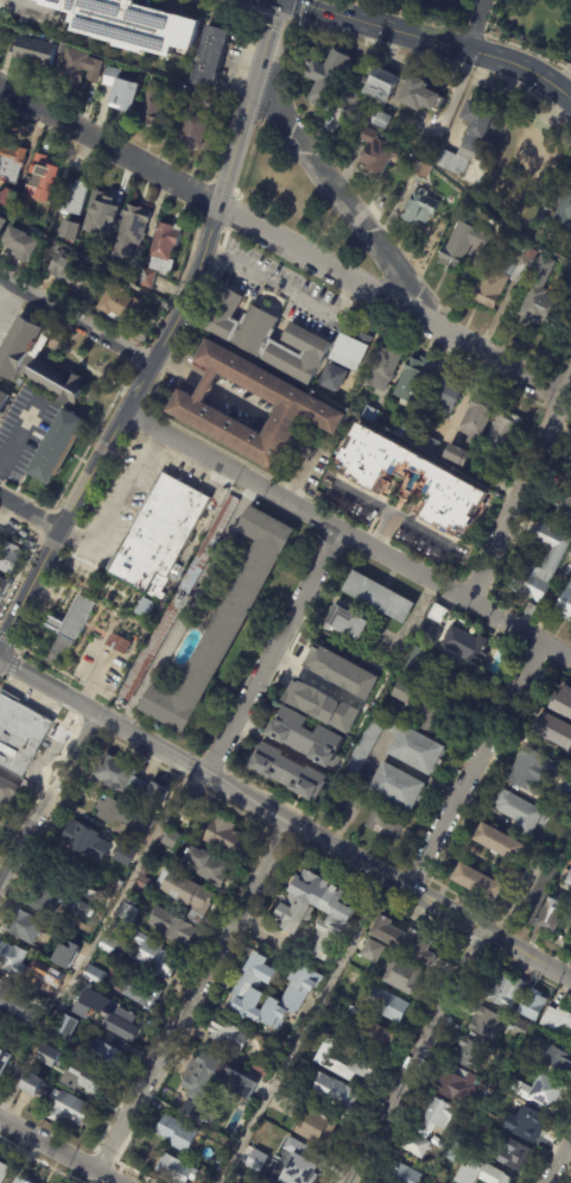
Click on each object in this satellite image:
building: (129, 25)
road: (477, 25)
road: (436, 39)
building: (36, 51)
building: (212, 59)
building: (77, 69)
building: (347, 83)
building: (120, 92)
building: (189, 95)
building: (418, 97)
building: (152, 106)
building: (382, 121)
building: (192, 132)
building: (469, 140)
building: (376, 153)
building: (11, 164)
building: (419, 171)
building: (42, 178)
road: (226, 185)
building: (74, 199)
park: (291, 199)
building: (6, 200)
road: (341, 203)
building: (419, 207)
building: (563, 209)
building: (96, 216)
building: (1, 224)
building: (69, 232)
building: (129, 233)
building: (0, 234)
road: (280, 244)
building: (462, 244)
building: (19, 247)
building: (102, 247)
building: (49, 250)
building: (164, 250)
building: (68, 269)
building: (146, 279)
building: (499, 279)
road: (286, 289)
building: (540, 301)
building: (116, 307)
road: (76, 321)
building: (267, 339)
building: (349, 350)
road: (158, 351)
road: (138, 355)
road: (166, 363)
building: (37, 364)
road: (147, 367)
road: (178, 369)
building: (381, 370)
building: (412, 379)
building: (330, 380)
road: (121, 390)
road: (152, 390)
building: (442, 396)
building: (4, 398)
road: (132, 399)
building: (300, 405)
road: (142, 409)
building: (372, 414)
road: (139, 420)
building: (478, 420)
building: (404, 430)
road: (137, 433)
building: (505, 433)
road: (139, 436)
road: (91, 438)
road: (19, 439)
road: (91, 445)
building: (431, 445)
building: (57, 446)
road: (102, 451)
road: (227, 453)
building: (458, 455)
road: (115, 459)
building: (488, 477)
building: (451, 483)
road: (0, 484)
road: (519, 491)
road: (249, 495)
road: (25, 497)
road: (75, 499)
road: (378, 508)
building: (564, 511)
road: (50, 512)
road: (27, 514)
road: (290, 517)
road: (20, 520)
road: (61, 520)
road: (45, 522)
road: (76, 530)
road: (419, 530)
road: (42, 533)
road: (348, 534)
road: (52, 536)
building: (160, 537)
road: (77, 540)
road: (69, 543)
building: (209, 546)
building: (556, 547)
building: (570, 555)
building: (11, 559)
road: (20, 570)
building: (534, 583)
building: (4, 587)
road: (45, 597)
building: (381, 597)
building: (565, 605)
building: (146, 609)
building: (533, 611)
building: (439, 613)
building: (74, 621)
building: (348, 622)
building: (224, 625)
building: (431, 634)
road: (6, 642)
building: (119, 644)
building: (468, 646)
road: (17, 648)
building: (151, 652)
road: (271, 653)
road: (11, 663)
building: (341, 672)
building: (414, 673)
road: (57, 674)
road: (275, 677)
road: (71, 678)
road: (4, 680)
road: (83, 690)
road: (75, 703)
building: (565, 703)
road: (30, 704)
building: (322, 705)
building: (420, 706)
road: (69, 716)
building: (65, 719)
road: (71, 724)
road: (66, 725)
building: (557, 730)
building: (19, 732)
road: (161, 734)
road: (85, 736)
building: (310, 737)
building: (368, 749)
building: (419, 750)
road: (138, 755)
road: (211, 762)
road: (475, 766)
road: (196, 768)
road: (223, 769)
building: (535, 772)
building: (293, 773)
building: (121, 776)
road: (189, 781)
road: (214, 784)
road: (199, 787)
building: (400, 787)
building: (7, 789)
building: (157, 793)
road: (45, 794)
road: (266, 794)
road: (216, 799)
building: (567, 808)
building: (188, 810)
building: (521, 812)
building: (123, 816)
building: (383, 818)
road: (280, 819)
building: (0, 820)
road: (285, 820)
building: (102, 825)
road: (261, 826)
road: (297, 829)
road: (272, 833)
road: (281, 837)
building: (227, 838)
building: (171, 839)
building: (85, 841)
building: (501, 843)
building: (125, 855)
road: (332, 863)
road: (253, 864)
building: (208, 867)
building: (145, 871)
building: (480, 882)
building: (570, 883)
building: (144, 885)
building: (116, 889)
road: (380, 889)
building: (541, 892)
building: (186, 894)
building: (42, 900)
road: (400, 901)
building: (76, 907)
road: (417, 911)
building: (129, 912)
building: (293, 917)
building: (554, 917)
building: (170, 925)
building: (26, 927)
road: (444, 927)
building: (408, 938)
road: (94, 939)
building: (108, 946)
building: (373, 950)
building: (65, 954)
building: (153, 957)
building: (14, 959)
building: (55, 968)
building: (407, 975)
building: (95, 976)
building: (46, 988)
building: (248, 990)
building: (507, 990)
building: (139, 992)
road: (192, 998)
building: (353, 999)
building: (95, 1000)
building: (389, 1003)
building: (18, 1005)
building: (534, 1005)
building: (89, 1012)
building: (354, 1012)
building: (557, 1019)
building: (122, 1020)
building: (488, 1024)
building: (68, 1025)
building: (522, 1028)
road: (303, 1031)
building: (229, 1034)
building: (380, 1036)
building: (570, 1037)
building: (516, 1049)
building: (470, 1055)
building: (106, 1056)
building: (548, 1056)
building: (51, 1057)
road: (417, 1058)
building: (364, 1059)
building: (5, 1062)
building: (264, 1069)
building: (89, 1080)
building: (212, 1084)
building: (290, 1084)
building: (458, 1084)
building: (34, 1086)
building: (488, 1086)
building: (513, 1087)
building: (548, 1088)
building: (337, 1091)
building: (488, 1096)
building: (70, 1109)
building: (300, 1112)
building: (437, 1113)
building: (529, 1122)
building: (264, 1124)
building: (321, 1128)
building: (179, 1133)
building: (417, 1144)
building: (453, 1149)
building: (151, 1150)
road: (56, 1152)
building: (519, 1154)
building: (220, 1158)
road: (557, 1158)
building: (256, 1160)
building: (303, 1163)
building: (262, 1168)
building: (177, 1170)
building: (4, 1171)
building: (402, 1173)
building: (482, 1173)
building: (436, 1178)
building: (23, 1181)

